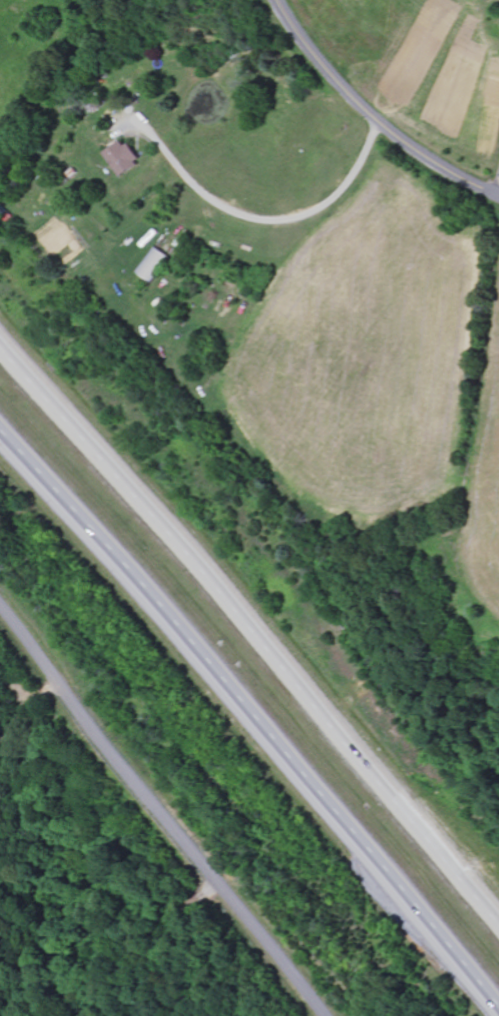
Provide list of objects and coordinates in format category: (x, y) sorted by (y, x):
road: (374, 114)
building: (123, 159)
building: (156, 266)
road: (249, 639)
road: (249, 718)
road: (163, 811)

